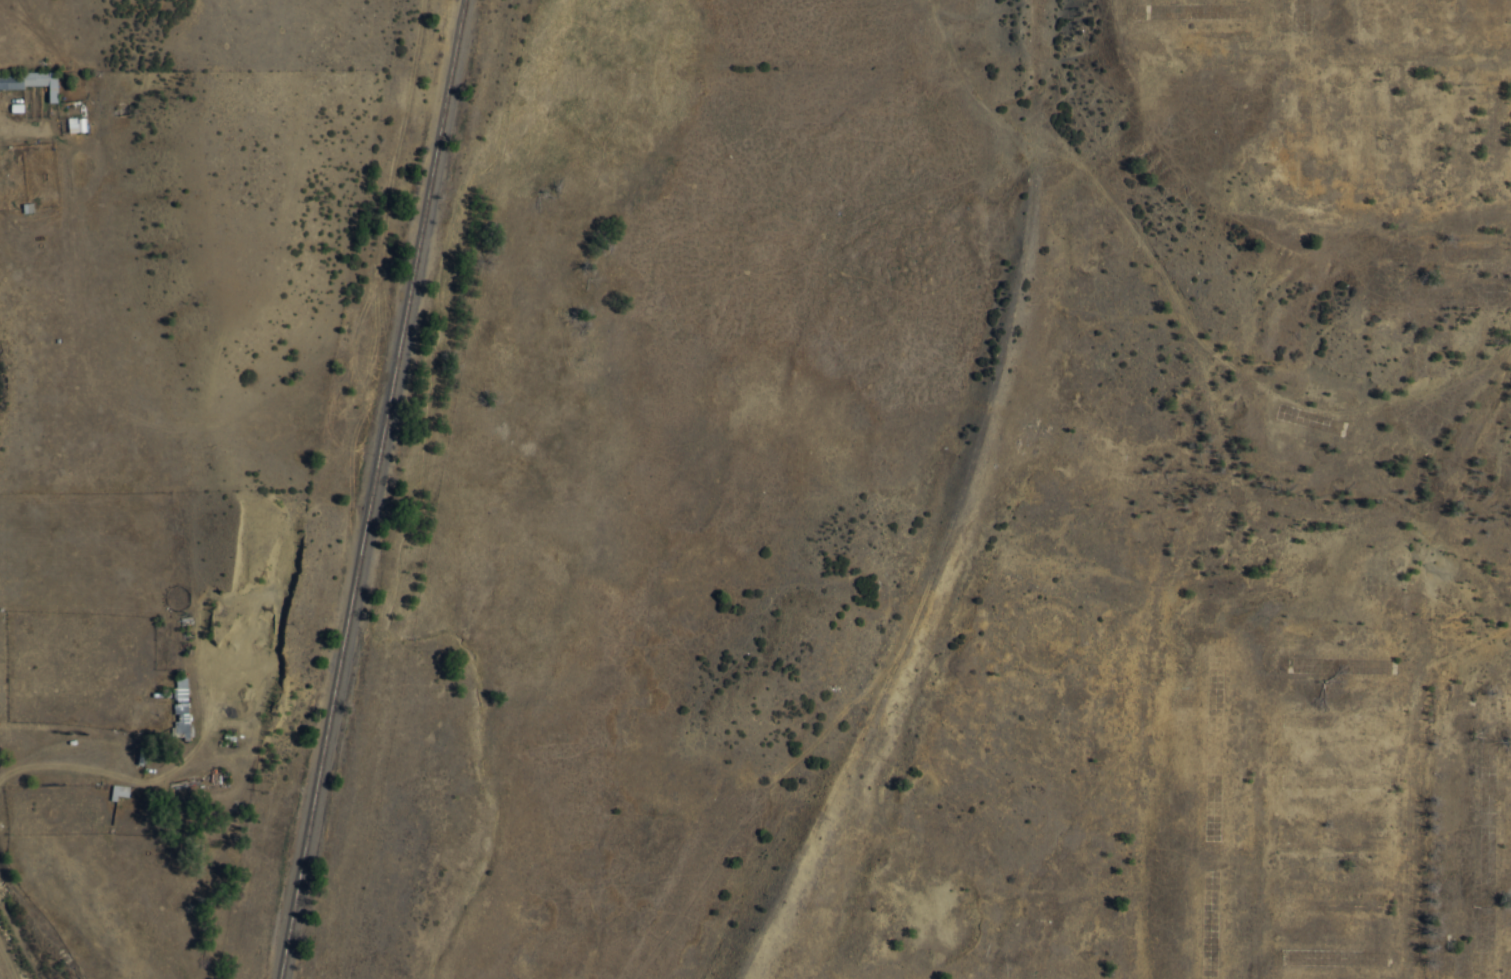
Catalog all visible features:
road: (51, 46)
building: (31, 82)
road: (5, 104)
railway: (368, 489)
building: (181, 706)

